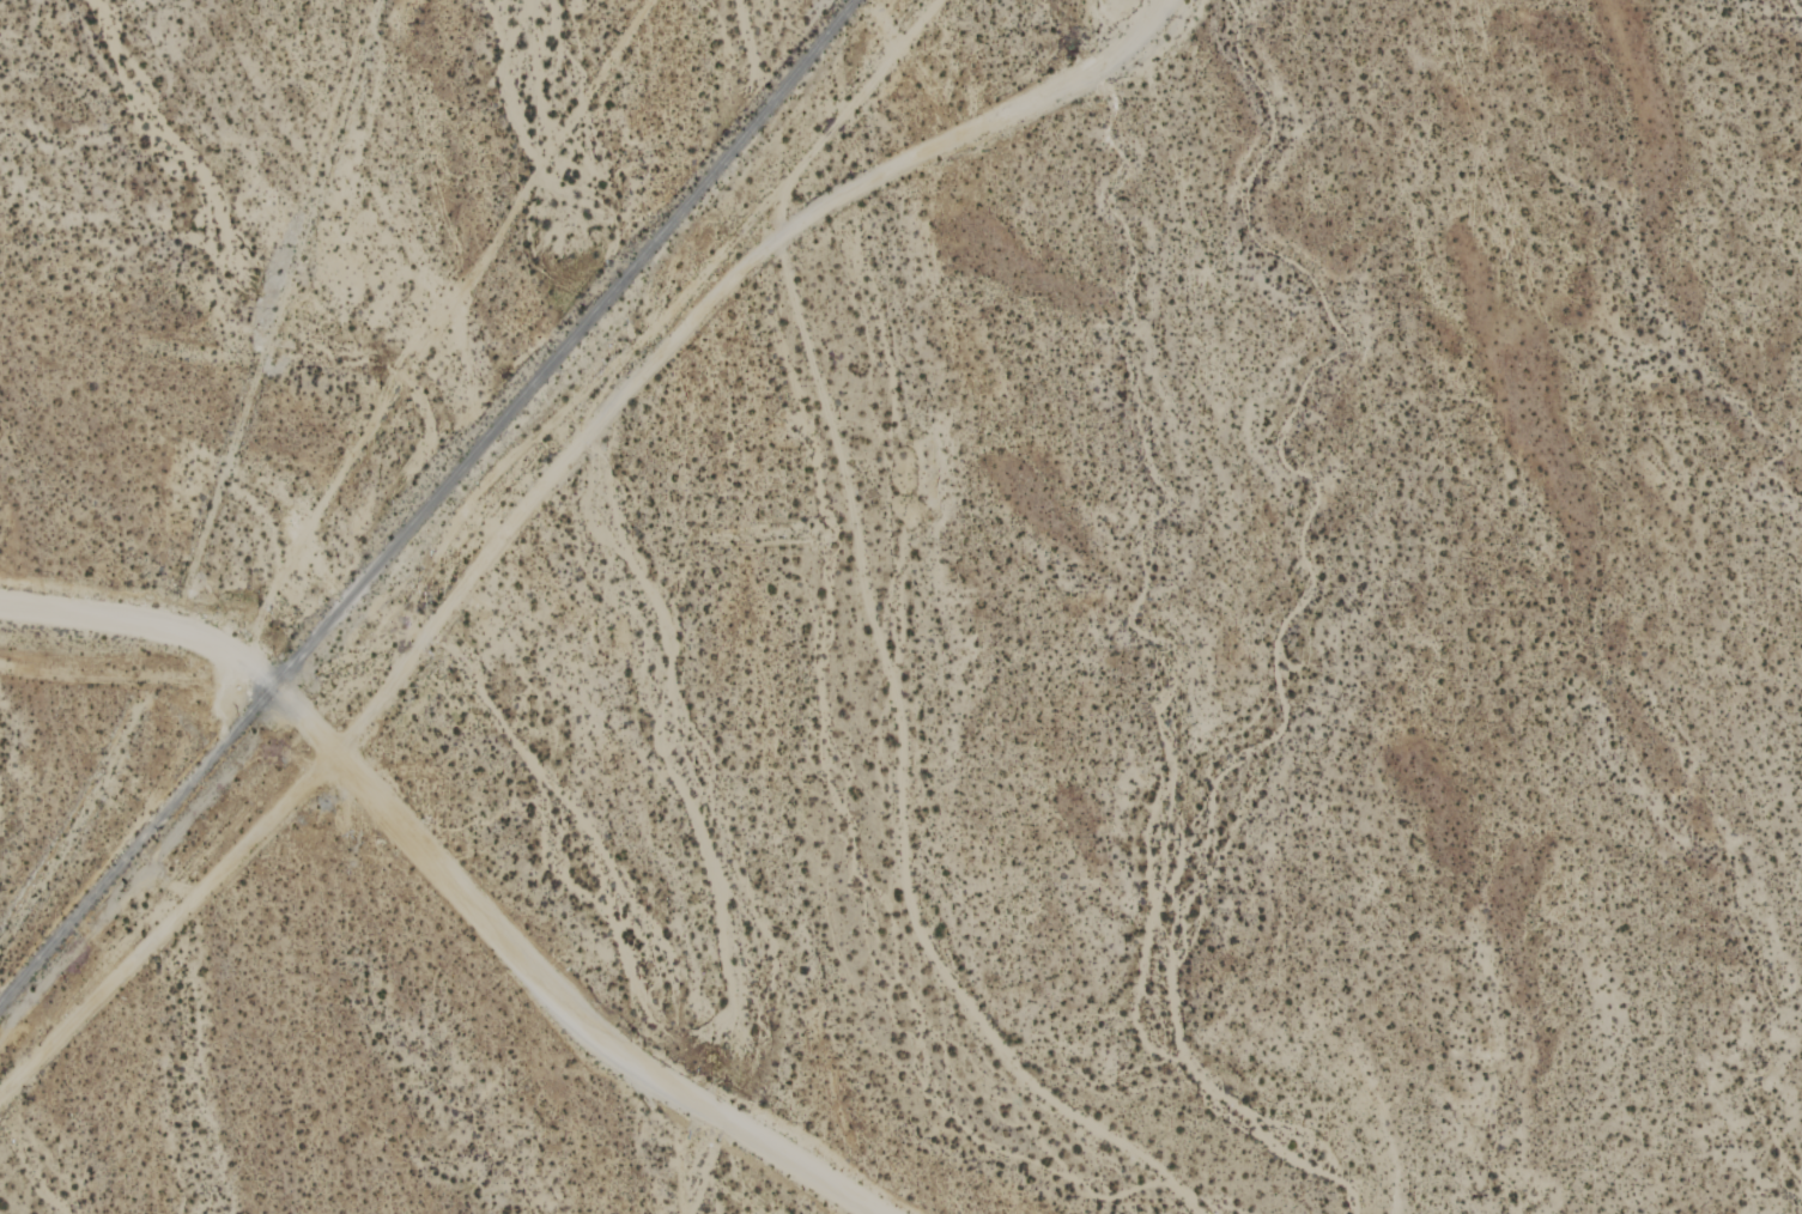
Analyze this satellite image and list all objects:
road: (977, 128)
road: (432, 324)
railway: (426, 502)
road: (123, 624)
road: (398, 672)
road: (528, 967)

